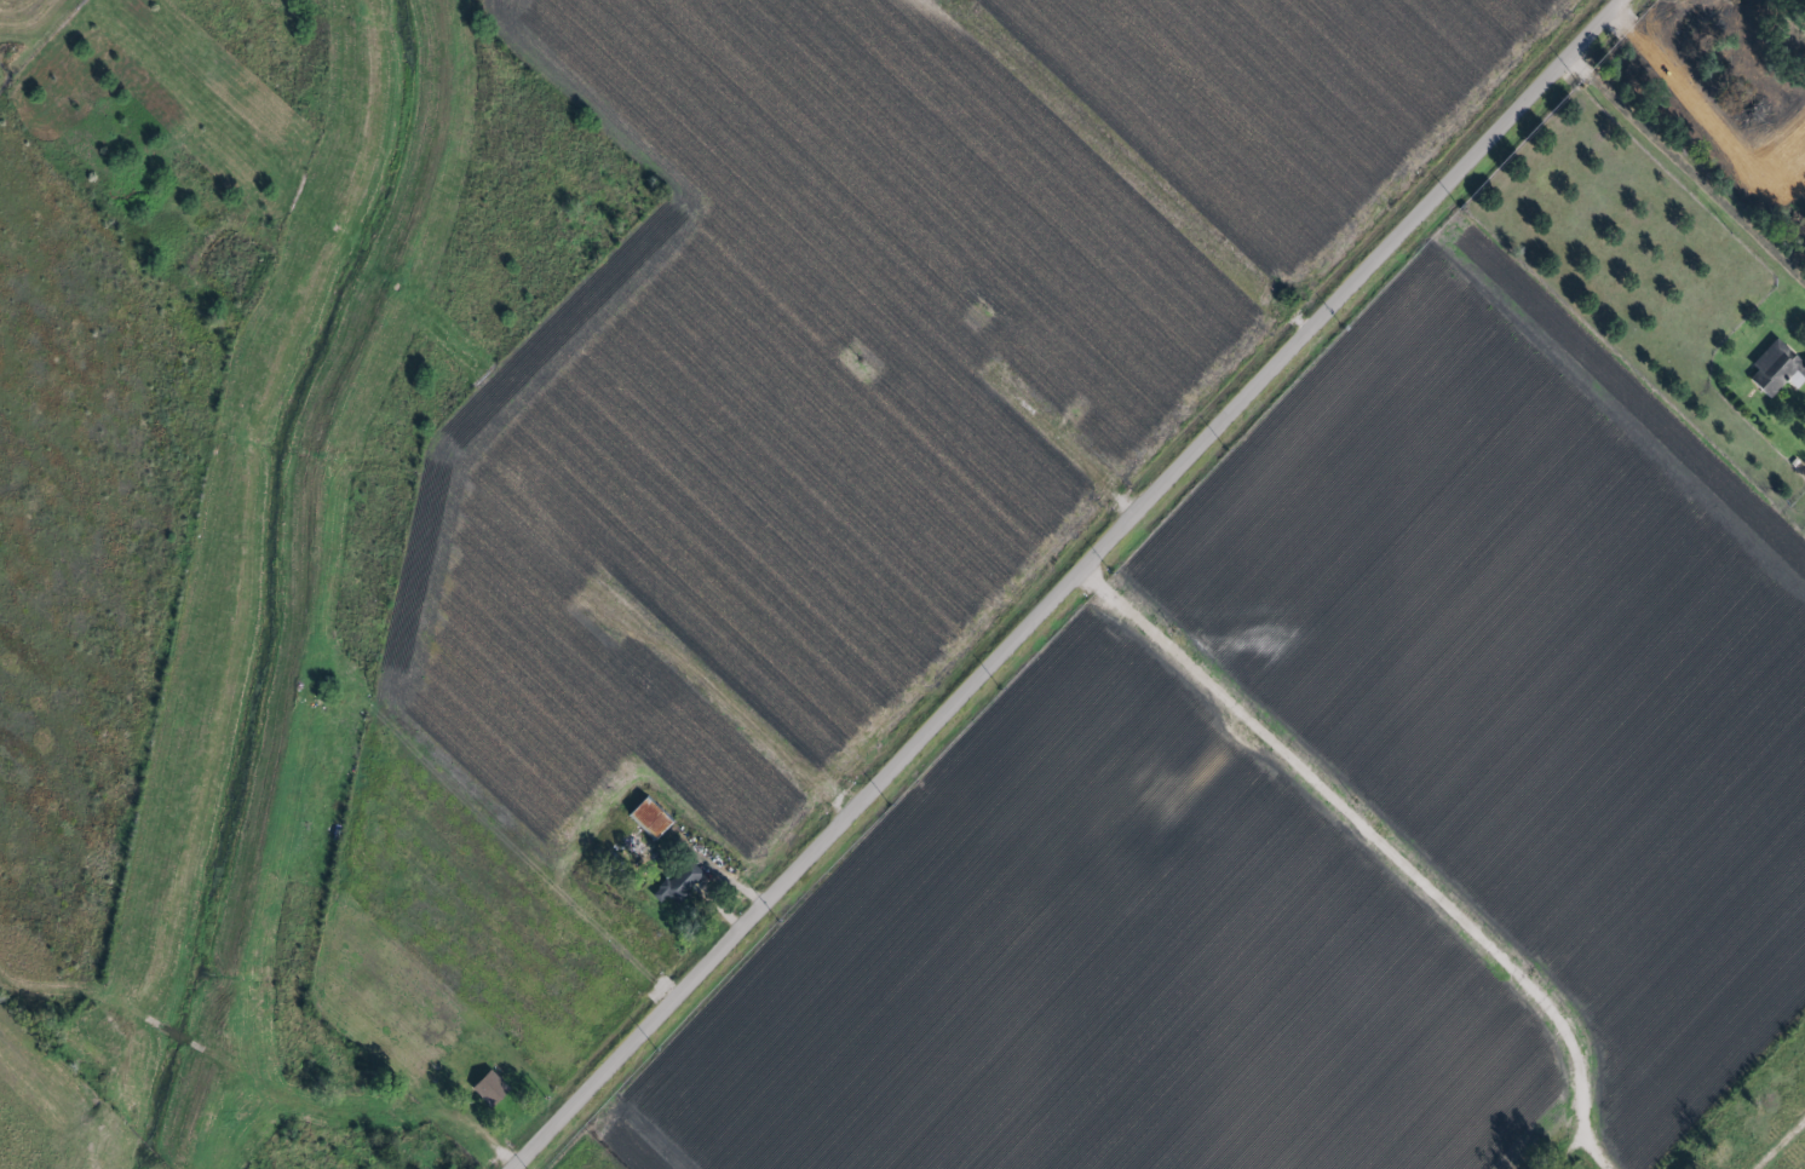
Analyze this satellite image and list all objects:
road: (1133, 163)
road: (1684, 174)
building: (1776, 369)
road: (1067, 583)
road: (1173, 641)
building: (645, 818)
building: (678, 883)
building: (487, 1087)
road: (643, 1125)
road: (1588, 1146)

